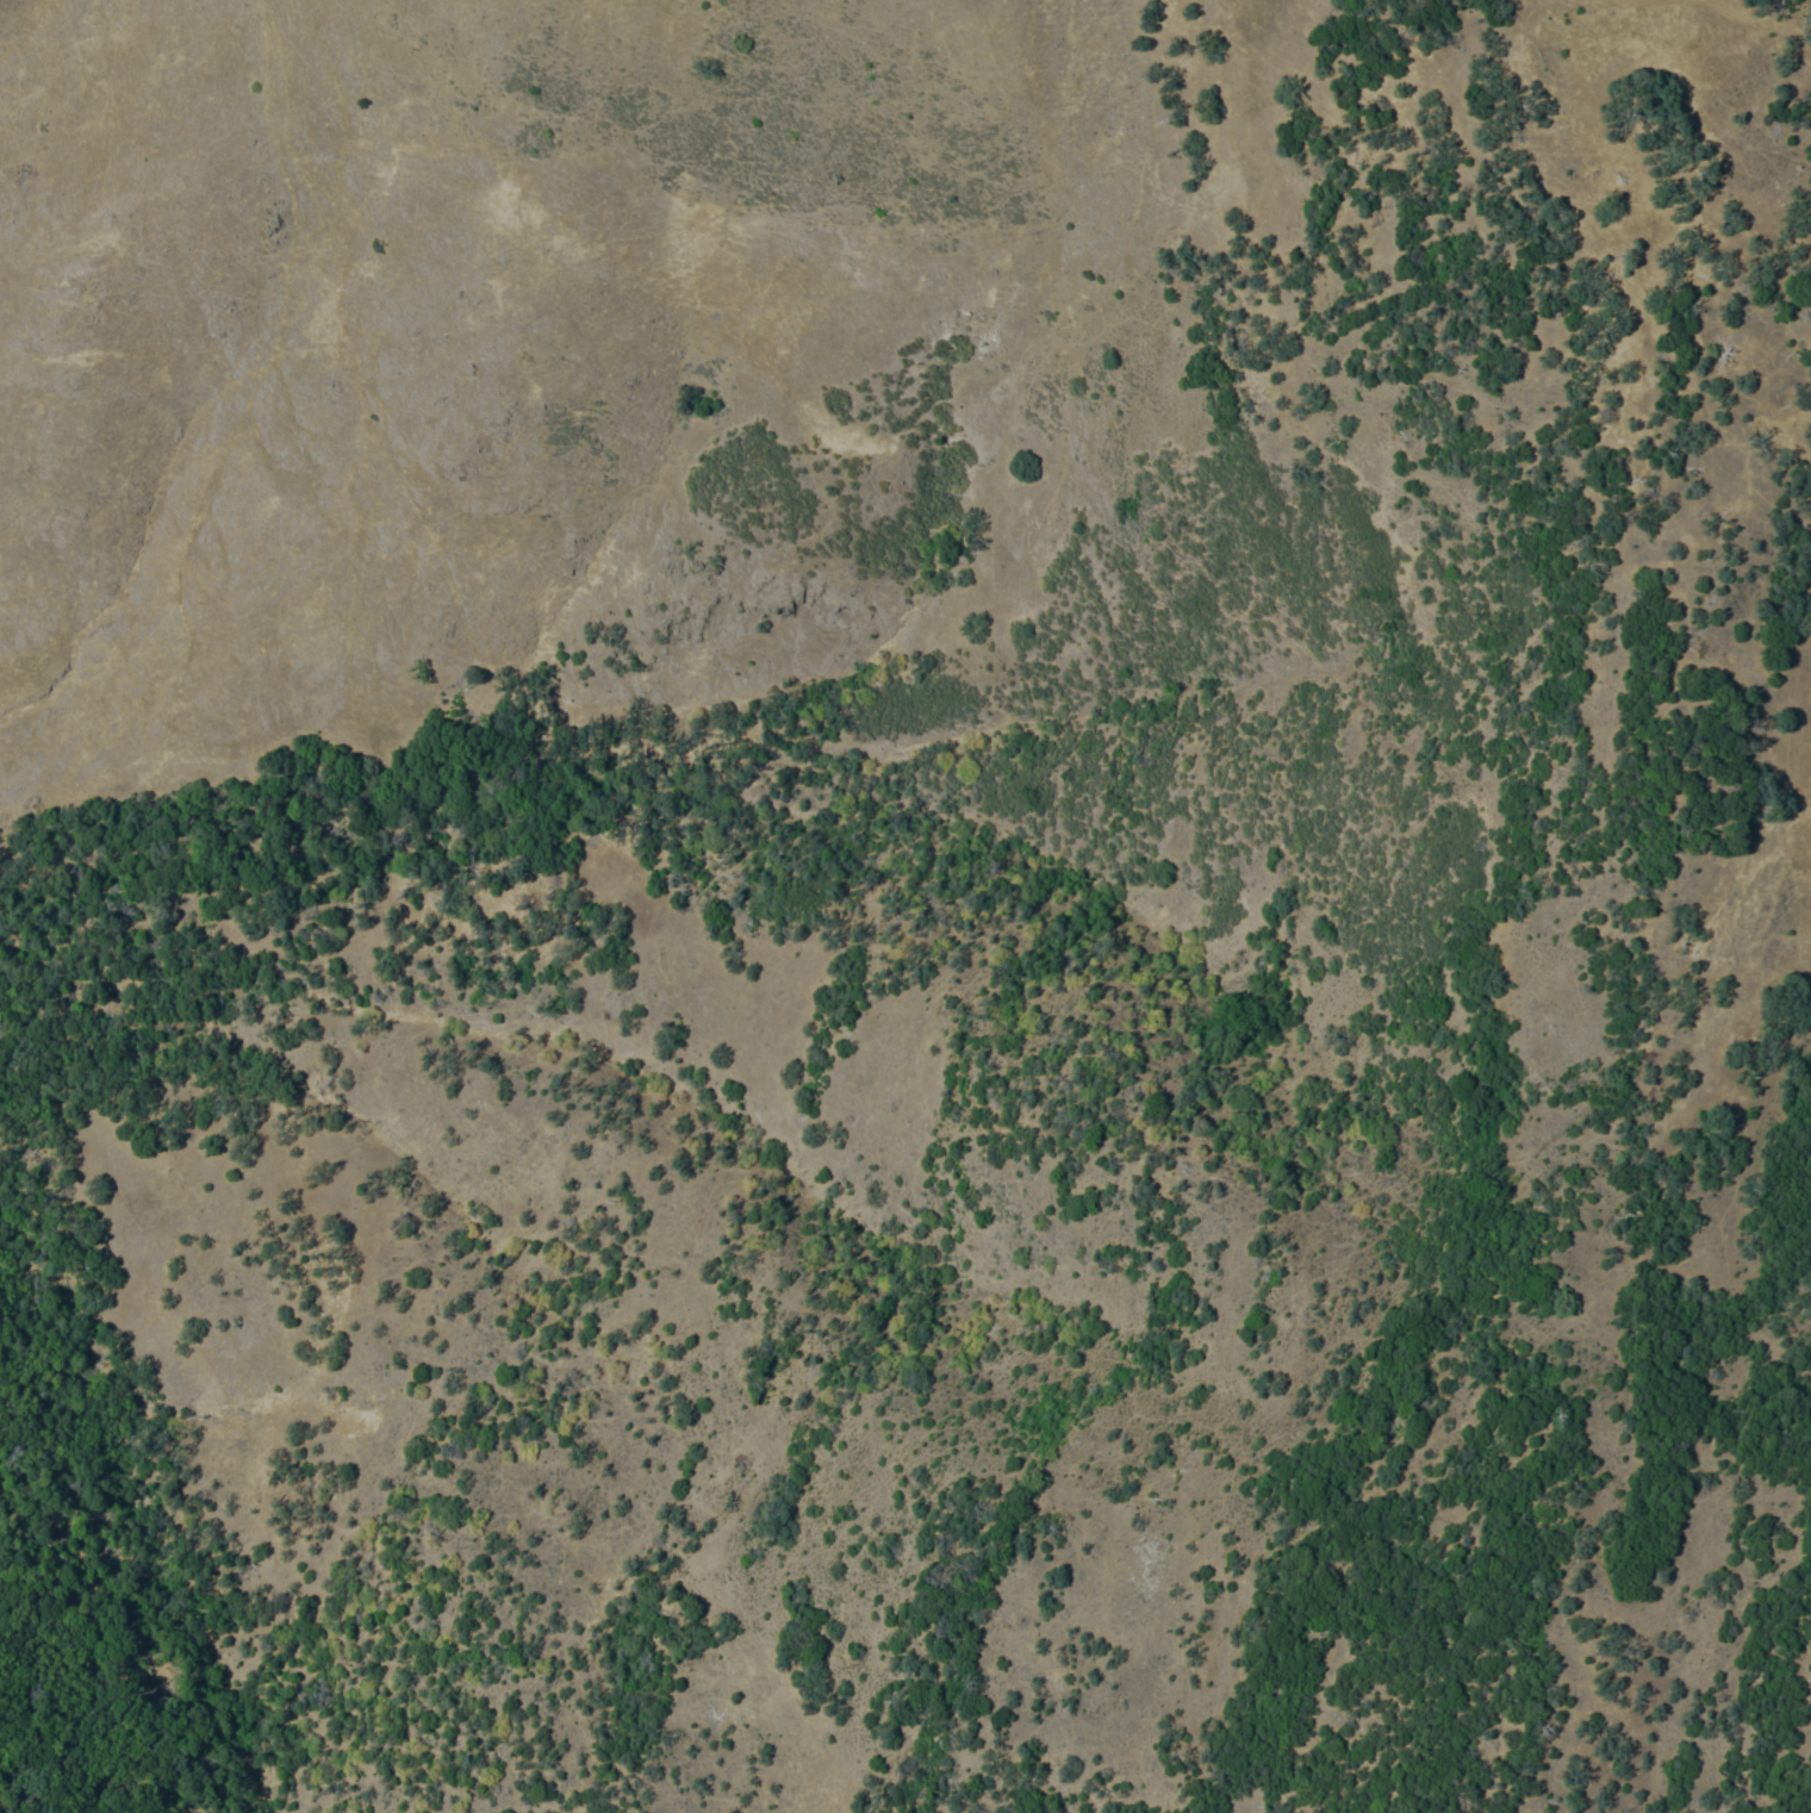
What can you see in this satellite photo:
road: (1616, 6)
road: (1753, 18)

